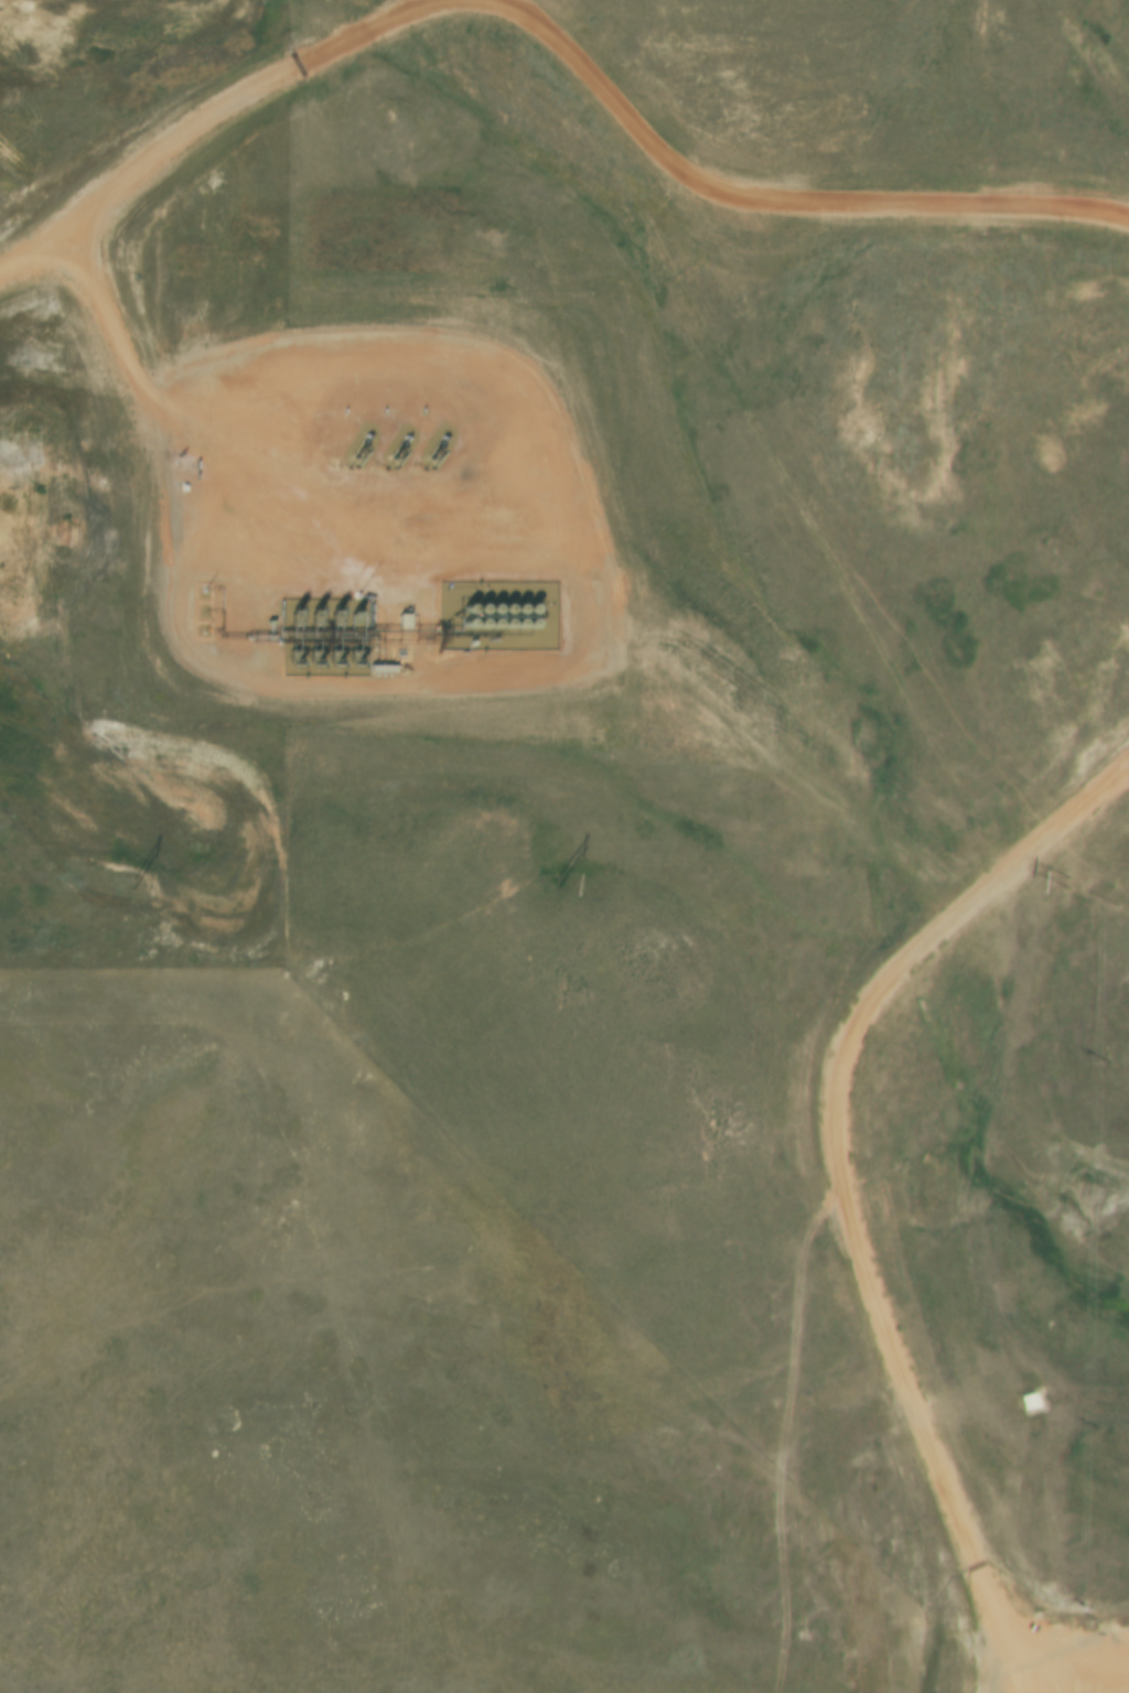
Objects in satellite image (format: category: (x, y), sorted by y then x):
quarry: (874, 282)

